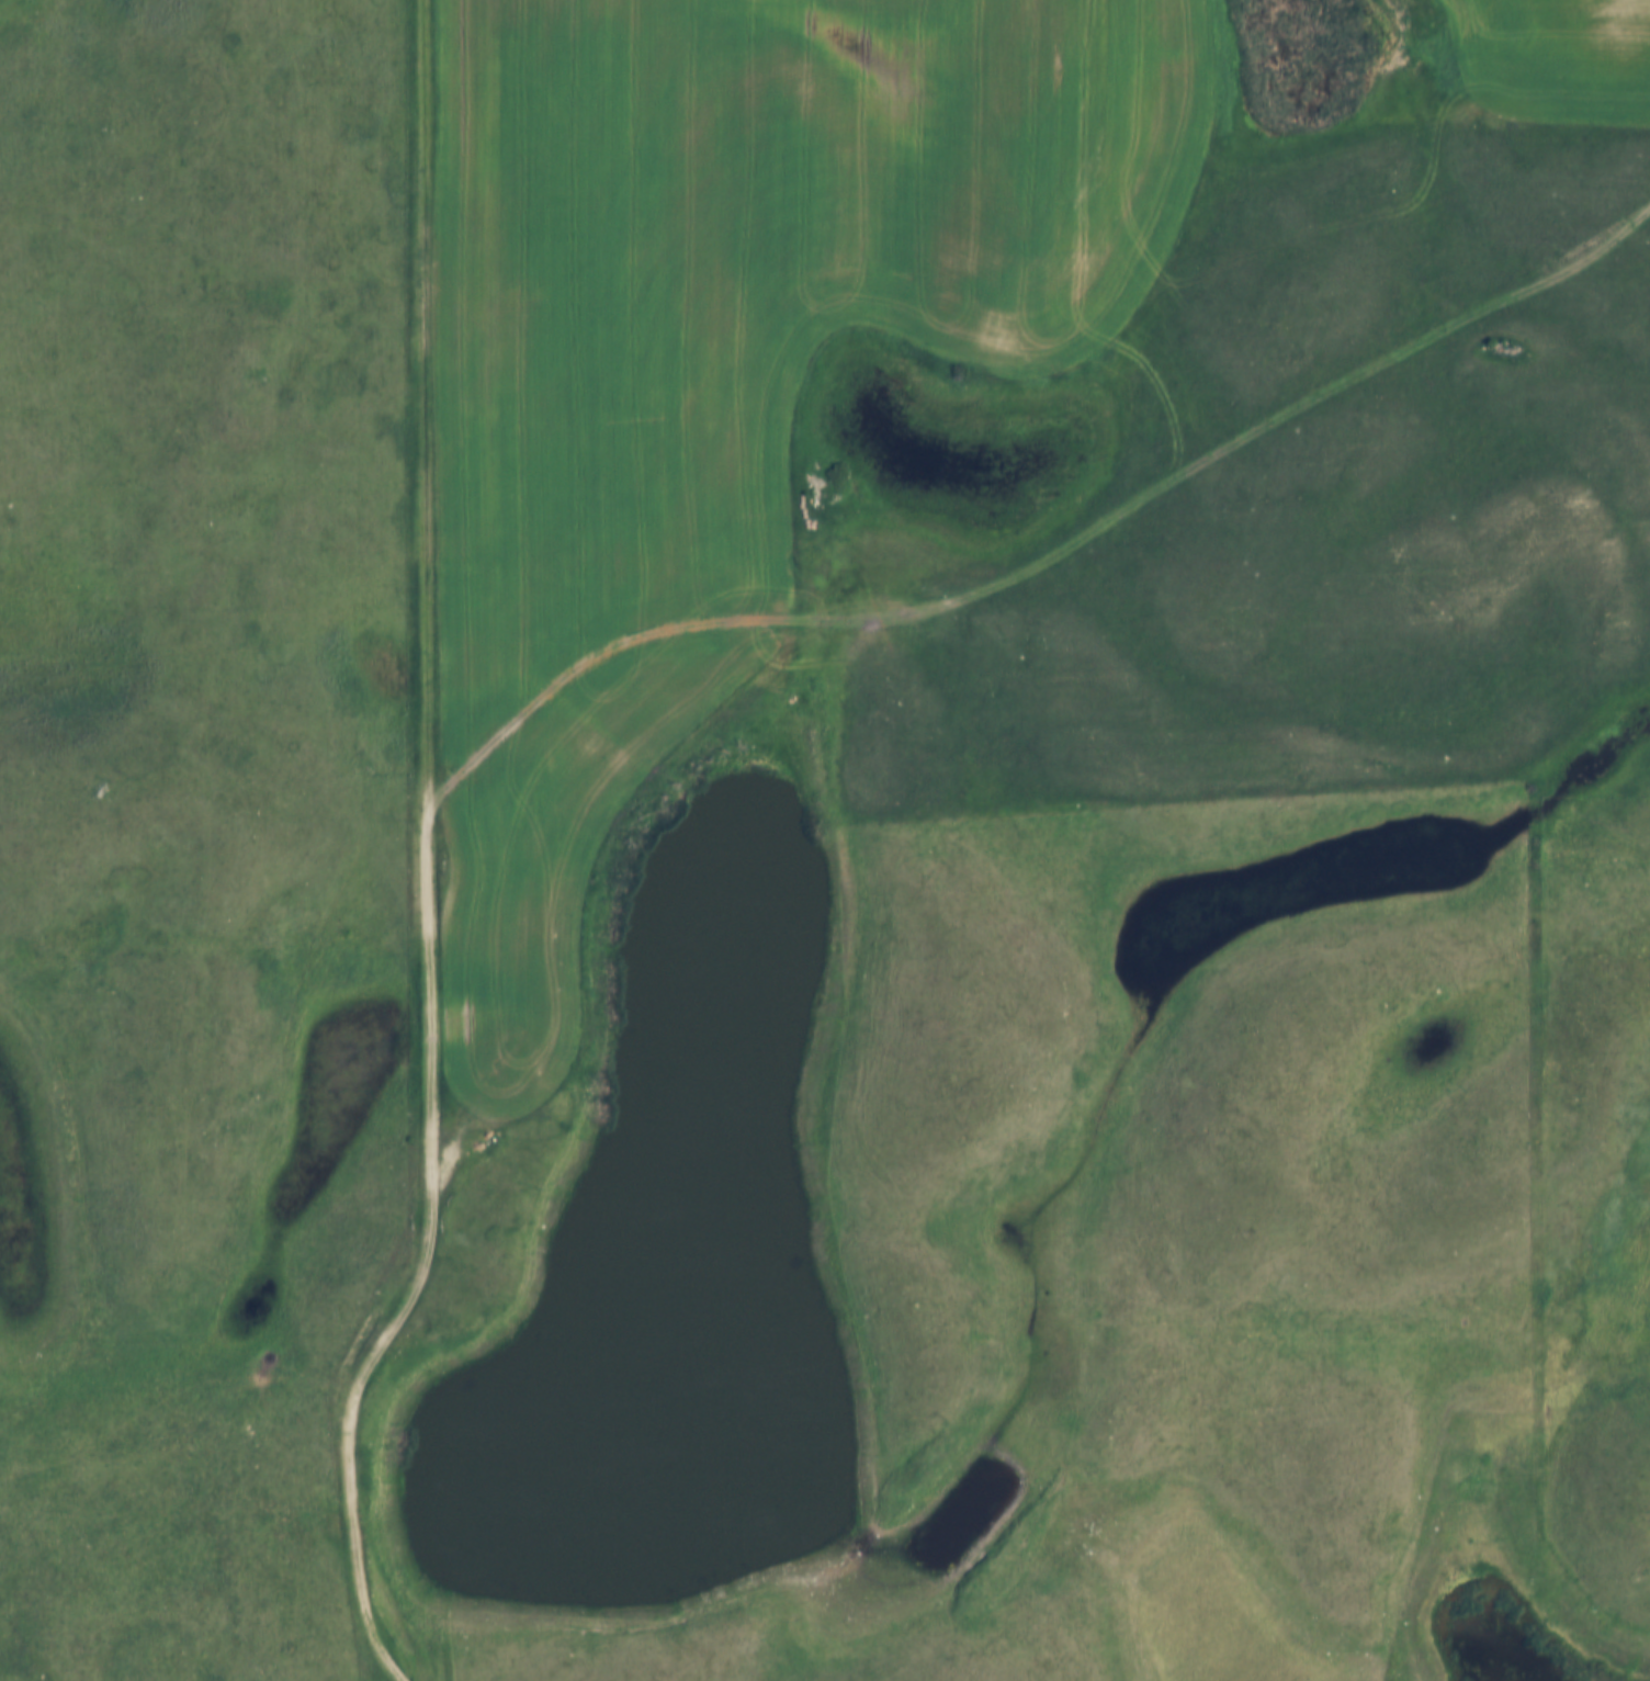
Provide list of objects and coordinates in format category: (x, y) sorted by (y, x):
road: (427, 855)

